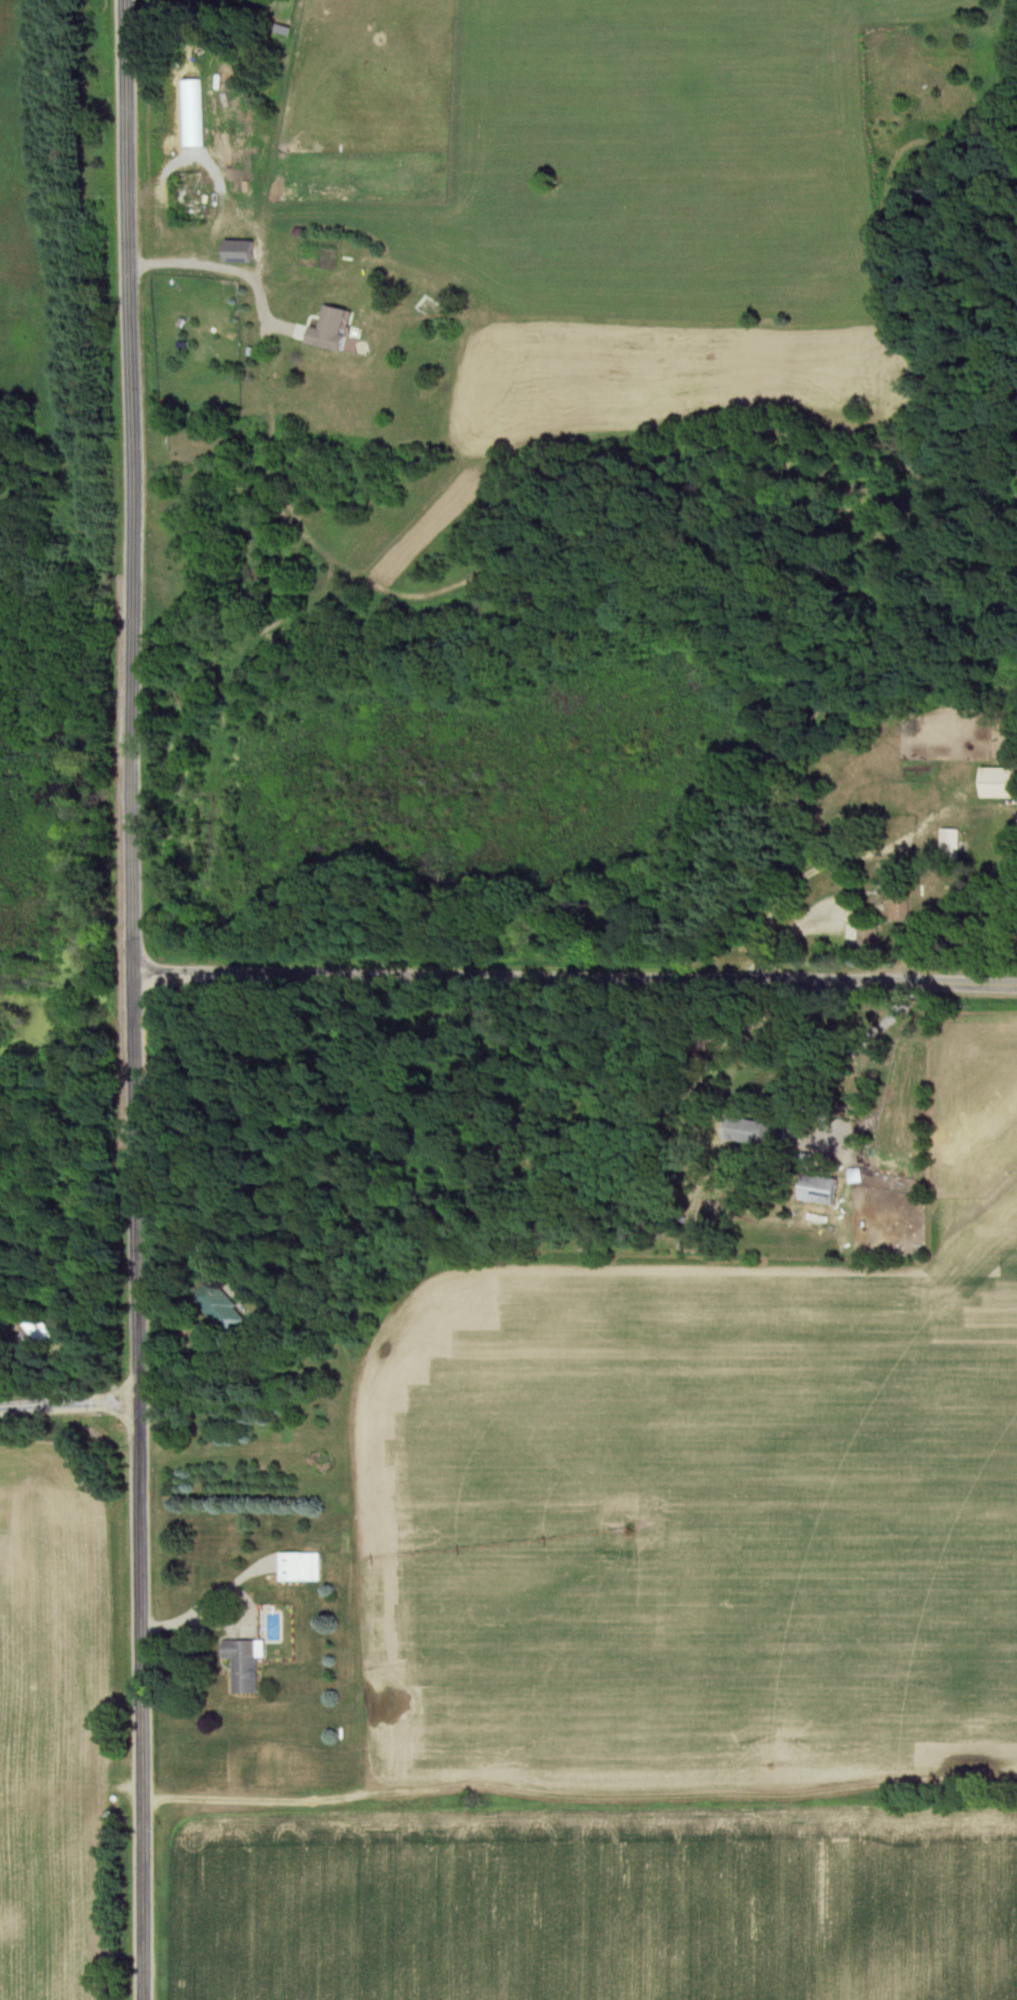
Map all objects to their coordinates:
building: (239, 252)
road: (231, 270)
building: (331, 330)
building: (1000, 783)
building: (949, 845)
building: (898, 895)
building: (867, 936)
road: (576, 981)
road: (135, 1000)
road: (858, 1051)
building: (751, 1132)
building: (818, 1189)
building: (222, 1307)
building: (36, 1337)
road: (70, 1408)
building: (300, 1568)
road: (228, 1596)
building: (243, 1666)

